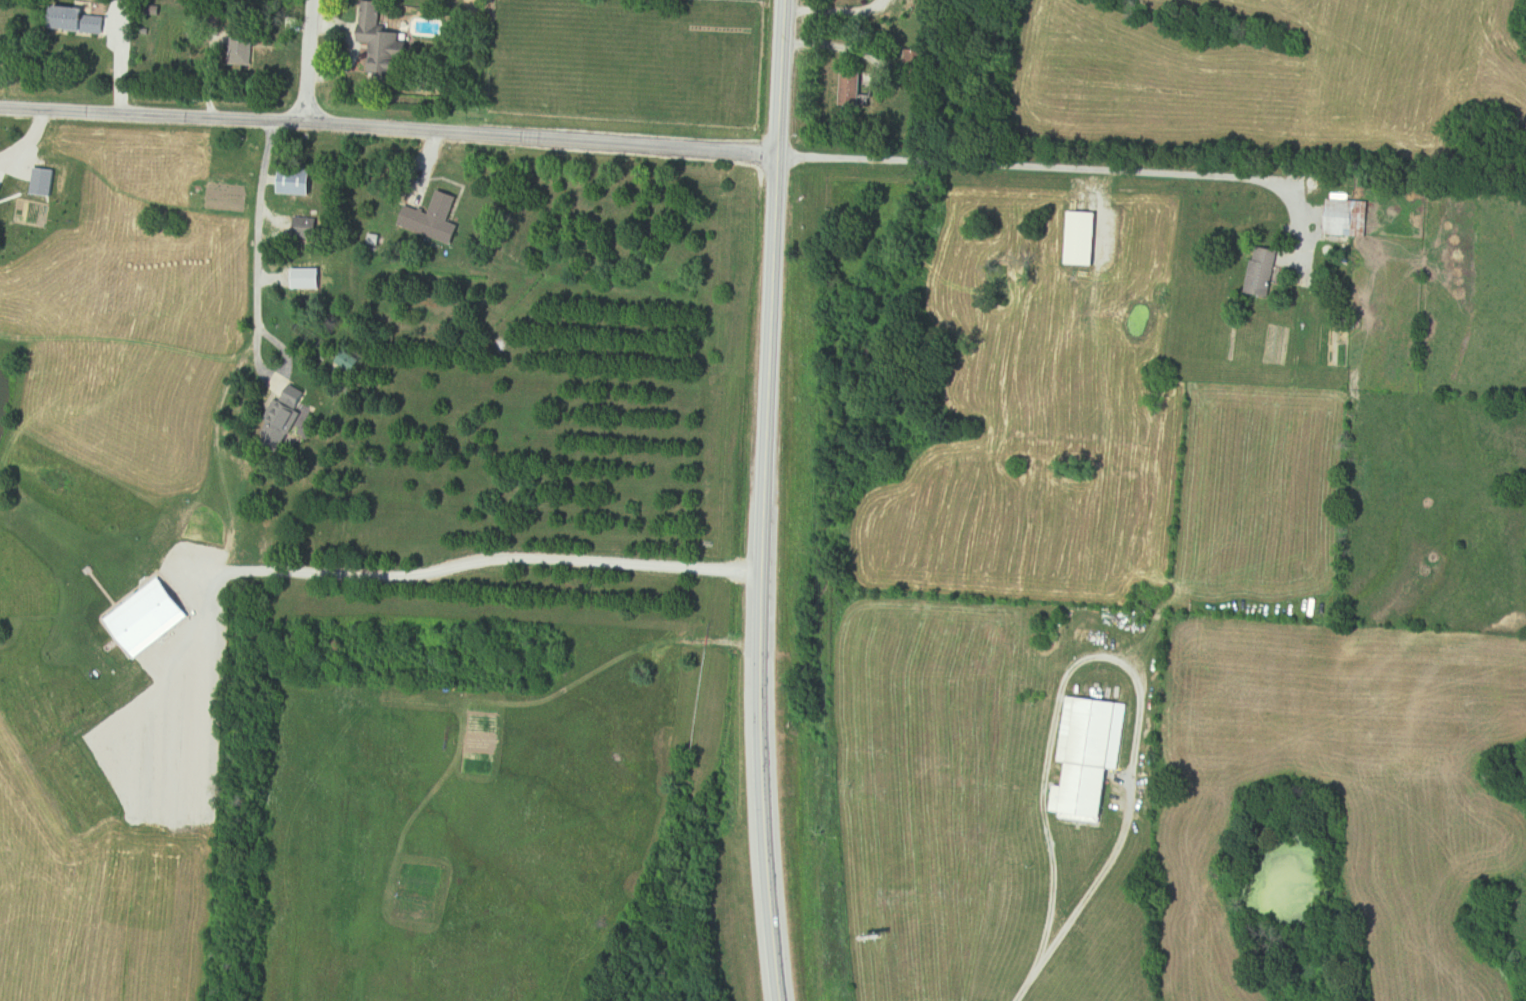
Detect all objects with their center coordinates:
building: (480, 5)
building: (76, 19)
building: (244, 48)
building: (386, 53)
road: (121, 56)
road: (308, 62)
building: (855, 88)
road: (387, 130)
road: (1071, 172)
building: (299, 181)
building: (1349, 218)
building: (435, 219)
road: (253, 225)
road: (768, 229)
building: (1263, 270)
road: (263, 379)
building: (285, 418)
road: (212, 449)
road: (359, 575)
road: (1108, 657)
road: (749, 730)
building: (1090, 757)
road: (1023, 983)

